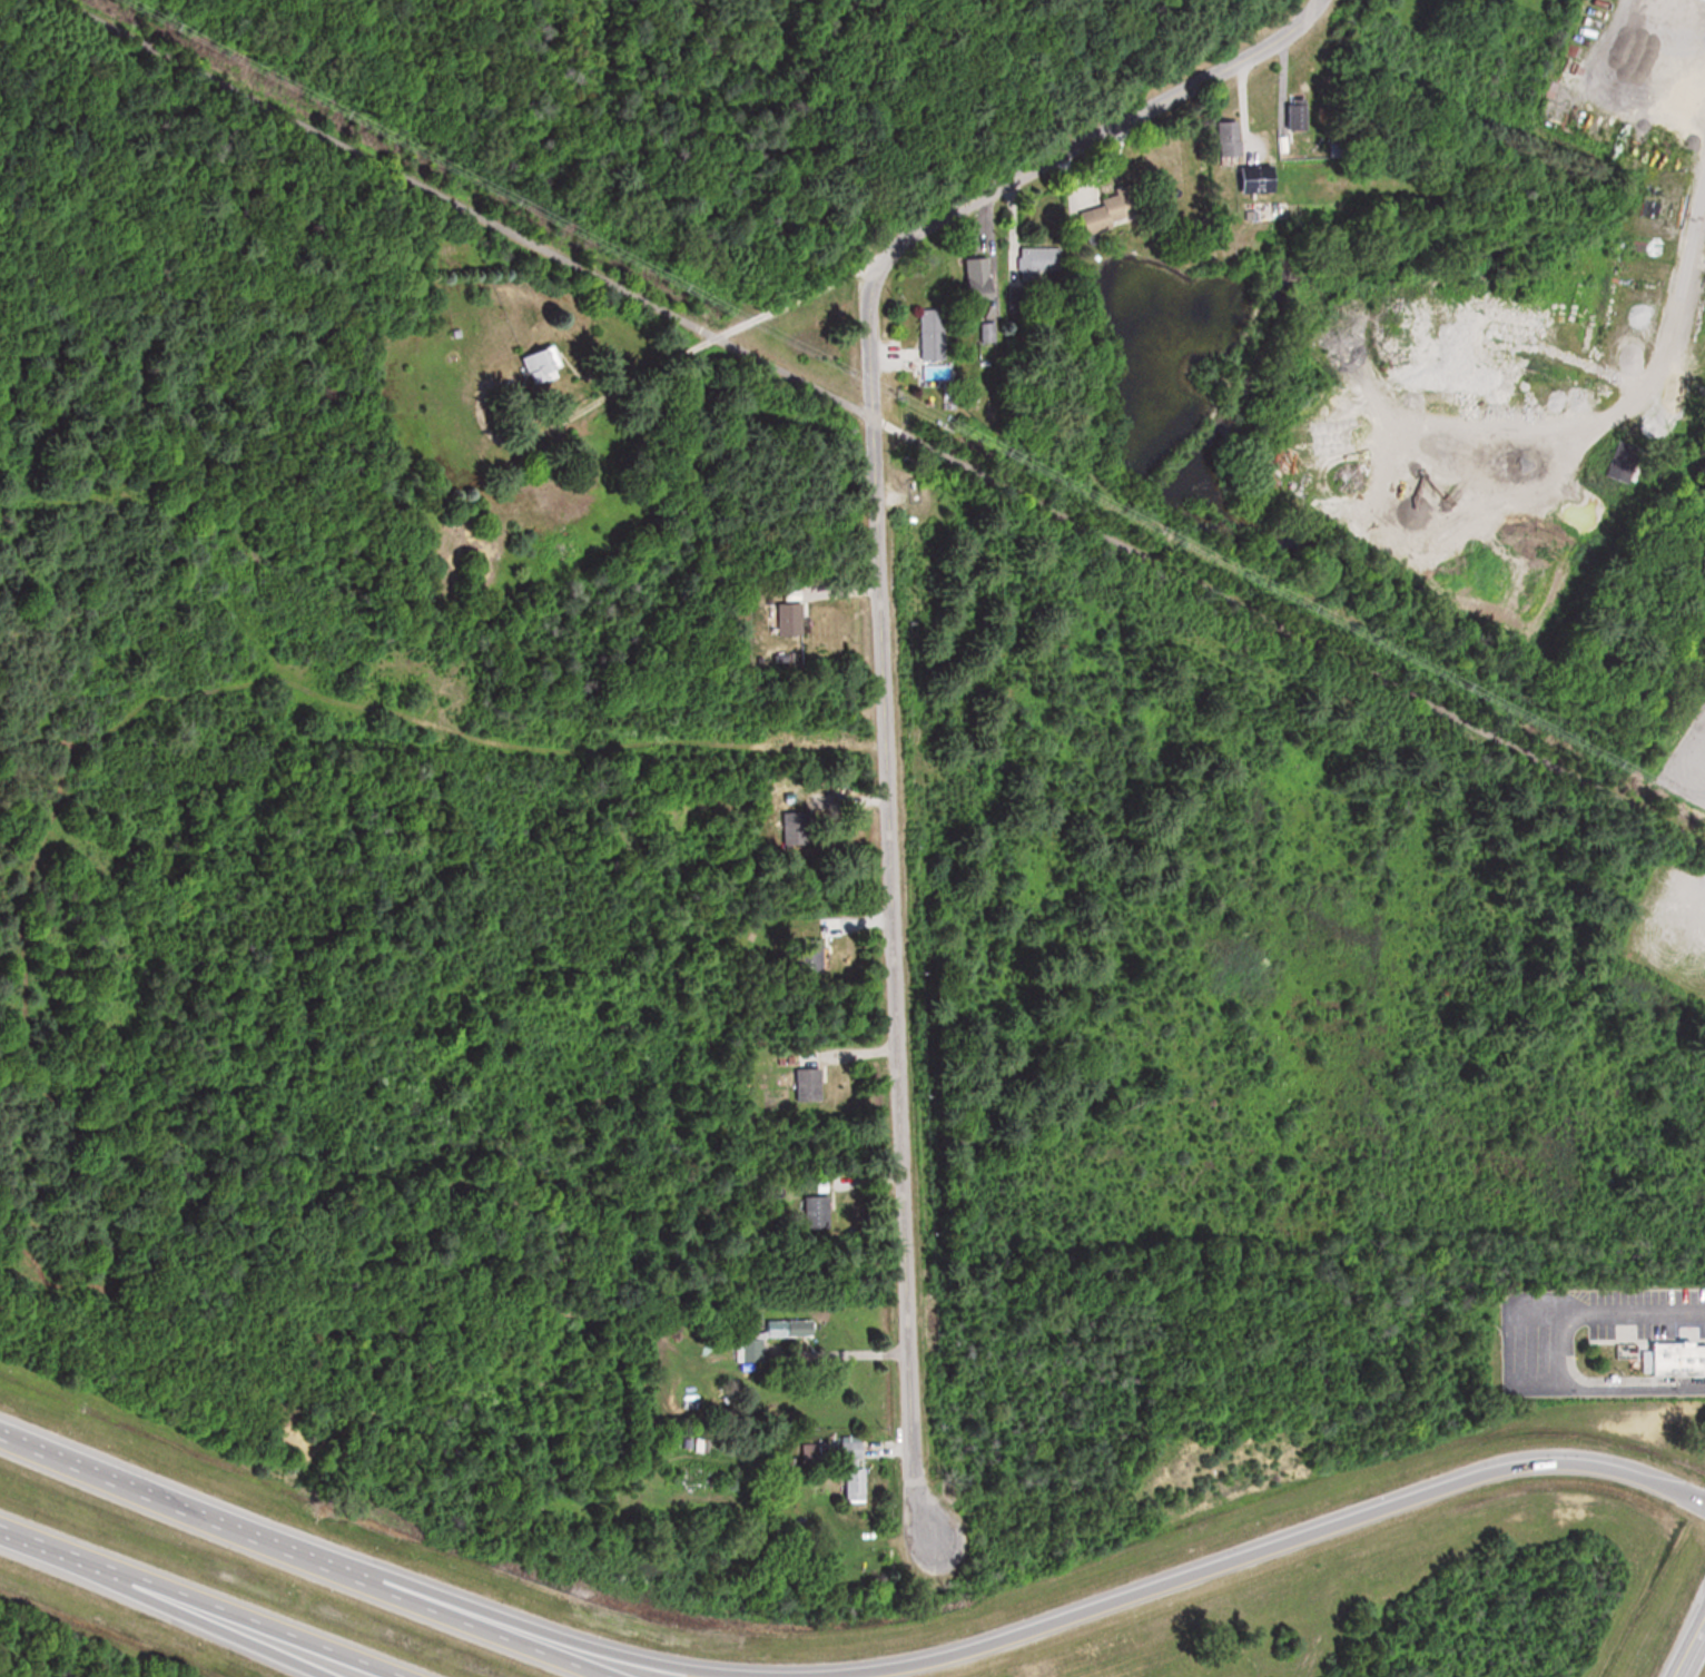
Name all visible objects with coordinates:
building: (1634, 55)
building: (1232, 138)
building: (1259, 180)
building: (1111, 210)
building: (1042, 258)
building: (978, 277)
building: (934, 337)
road: (711, 338)
building: (546, 364)
road: (880, 422)
building: (792, 619)
road: (880, 661)
building: (798, 828)
building: (812, 955)
building: (810, 1076)
building: (817, 1211)
building: (790, 1329)
building: (763, 1351)
road: (1556, 1354)
building: (1681, 1361)
building: (855, 1449)
building: (858, 1484)
road: (302, 1551)
road: (197, 1602)
road: (1091, 1608)
road: (220, 1624)
road: (1686, 1640)

